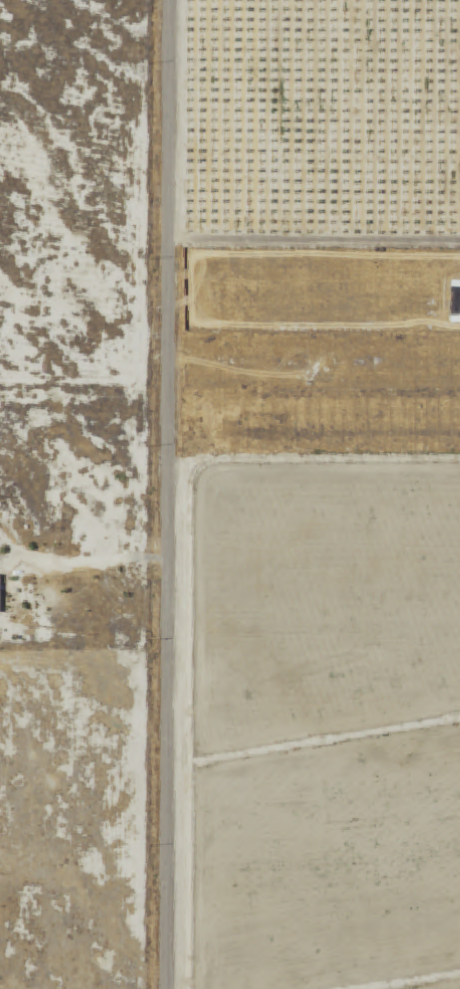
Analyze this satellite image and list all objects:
road: (314, 247)
road: (310, 461)
road: (168, 494)
crop: (324, 606)
crop: (329, 867)
crop: (449, 987)

